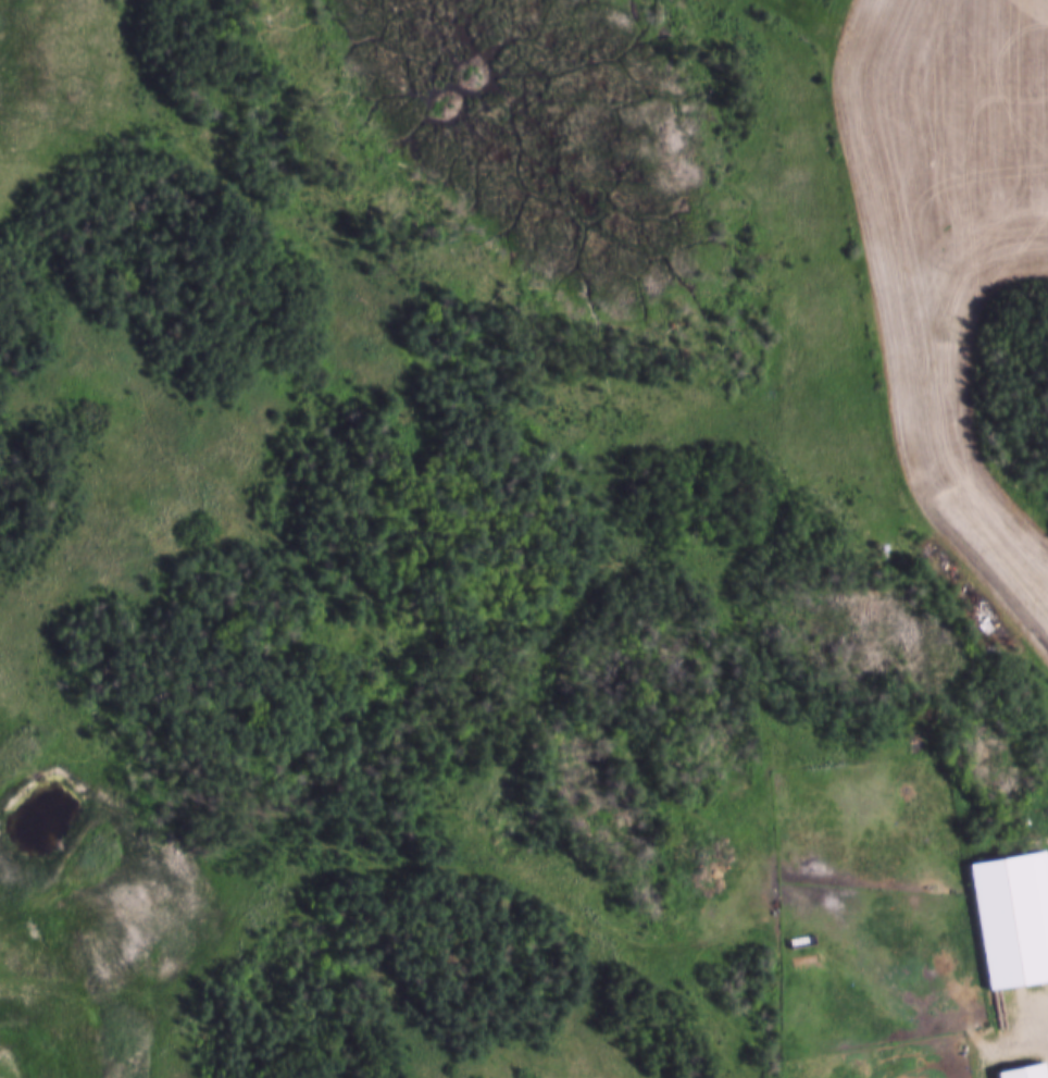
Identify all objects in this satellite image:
building: (864, 538)
building: (1006, 918)
building: (1020, 1070)

